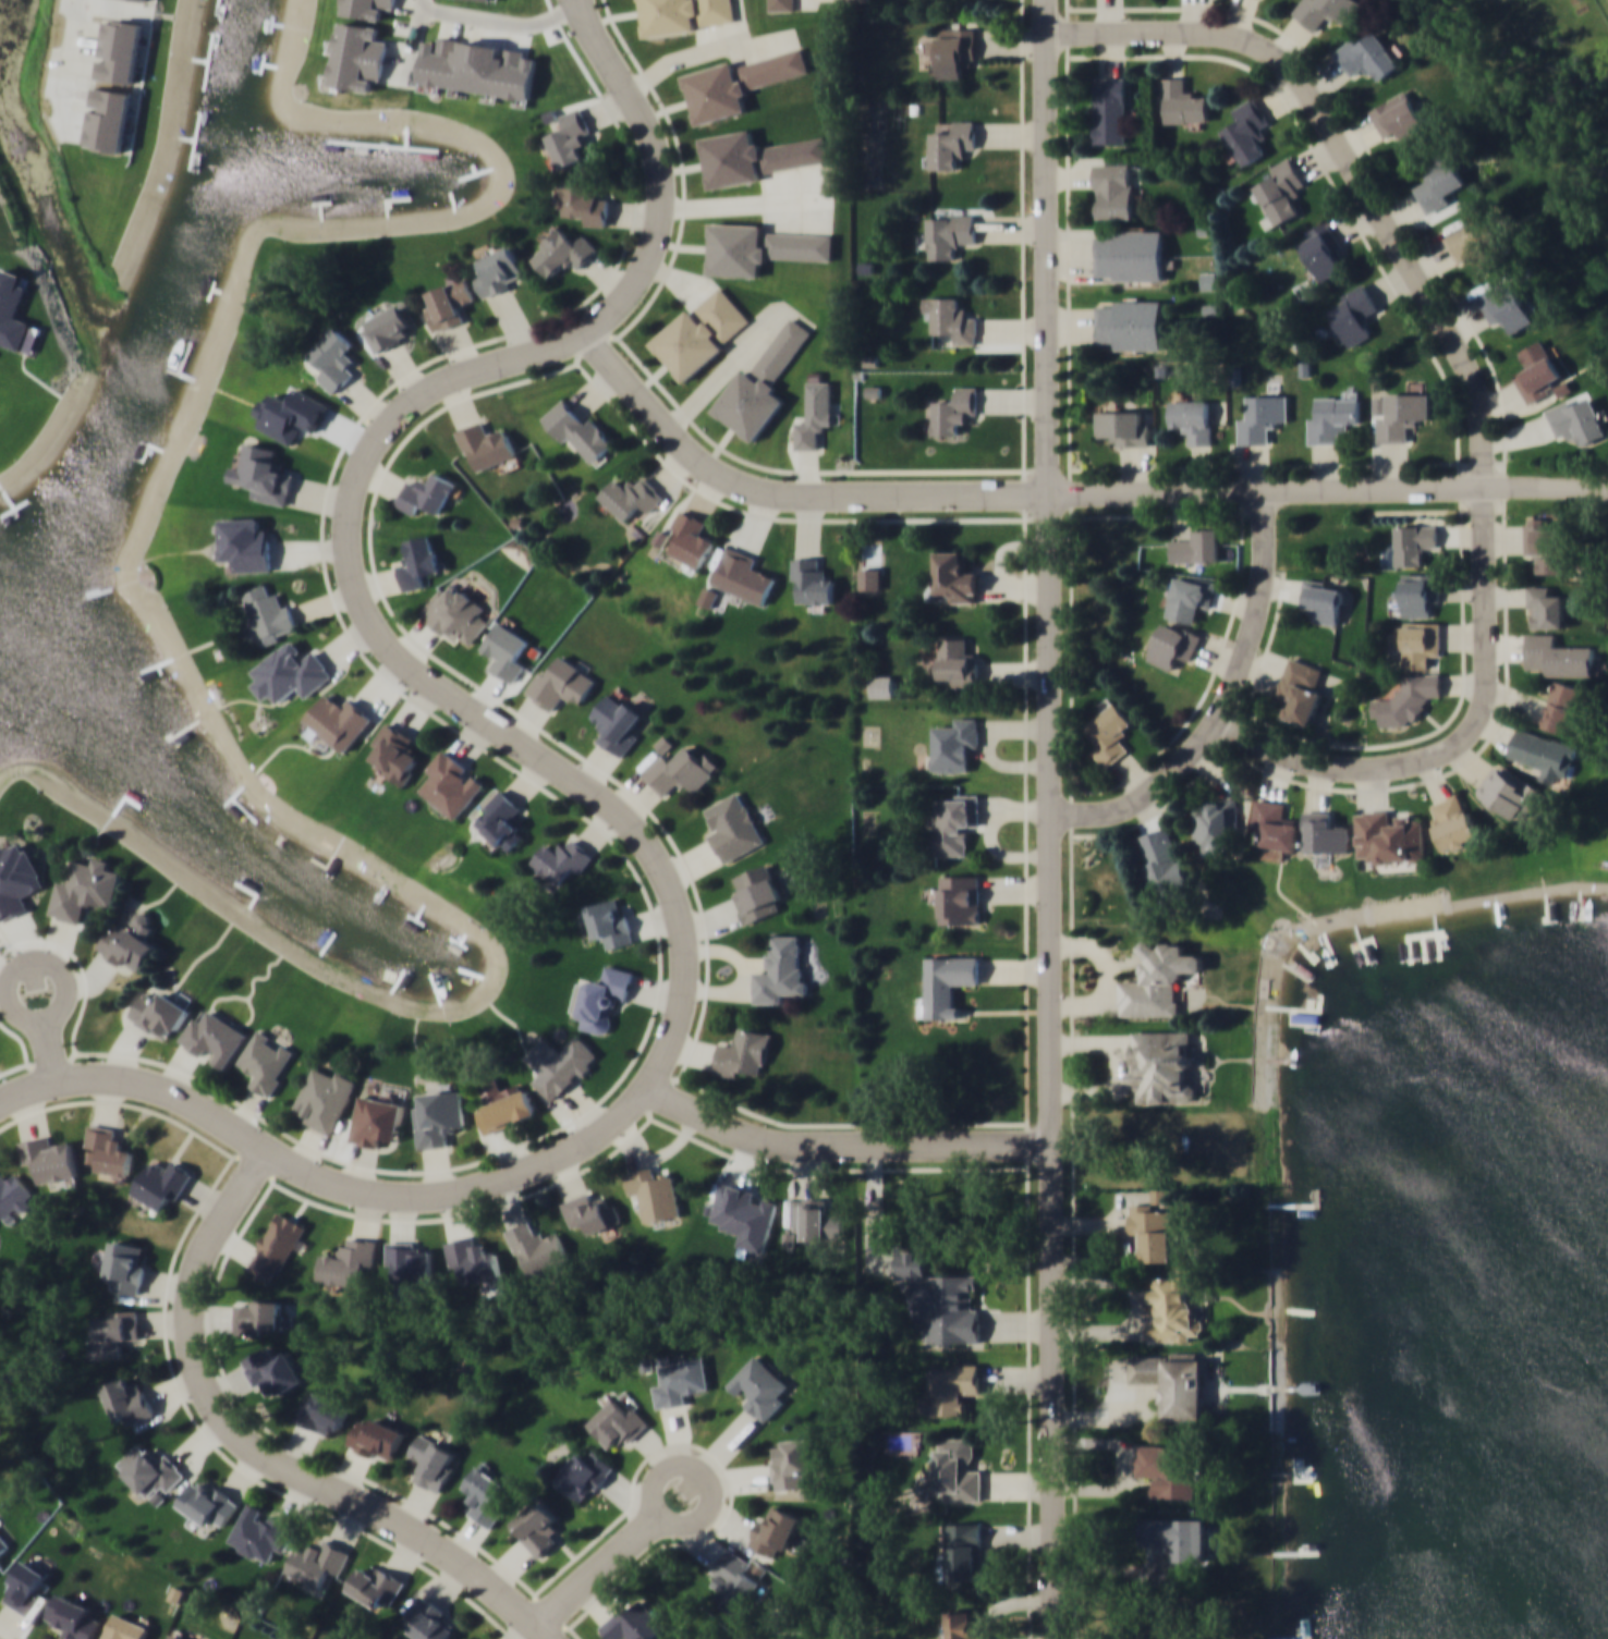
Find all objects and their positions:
building: (781, 4)
building: (366, 8)
building: (1326, 11)
building: (685, 14)
road: (501, 20)
road: (76, 27)
road: (413, 38)
building: (955, 49)
building: (120, 50)
building: (357, 57)
building: (1367, 57)
building: (441, 66)
building: (738, 82)
building: (1181, 101)
building: (1110, 110)
building: (109, 119)
building: (1400, 119)
building: (1246, 132)
building: (568, 138)
building: (951, 145)
building: (755, 156)
road: (1347, 158)
building: (1438, 181)
road: (682, 182)
building: (1114, 189)
building: (1280, 192)
building: (584, 201)
building: (949, 233)
building: (1477, 244)
building: (759, 247)
building: (1321, 248)
building: (561, 249)
building: (1129, 255)
building: (500, 271)
building: (450, 303)
building: (1505, 305)
building: (1354, 314)
building: (951, 317)
building: (1129, 323)
building: (386, 328)
building: (701, 333)
building: (334, 358)
building: (1538, 370)
building: (760, 383)
building: (954, 409)
building: (814, 412)
building: (1400, 415)
building: (1263, 417)
building: (1331, 418)
building: (1191, 419)
building: (1577, 420)
building: (1121, 426)
building: (578, 429)
building: (485, 444)
building: (263, 474)
road: (1062, 491)
building: (427, 493)
building: (634, 497)
building: (691, 539)
building: (1414, 541)
building: (245, 543)
building: (1546, 545)
building: (1196, 546)
building: (418, 562)
building: (742, 575)
building: (957, 576)
building: (813, 580)
building: (1418, 592)
building: (707, 596)
building: (1190, 596)
building: (1323, 599)
building: (1545, 606)
building: (268, 611)
building: (456, 613)
building: (1418, 640)
building: (1173, 645)
building: (505, 650)
building: (1558, 655)
building: (959, 661)
building: (290, 672)
building: (561, 683)
building: (1299, 689)
building: (1409, 697)
road: (1225, 705)
building: (1563, 706)
building: (616, 721)
building: (339, 722)
building: (1110, 732)
road: (1460, 739)
building: (954, 744)
building: (395, 751)
building: (1545, 753)
building: (679, 769)
building: (451, 783)
road: (575, 784)
building: (1509, 790)
building: (500, 818)
road: (1050, 819)
building: (953, 821)
building: (1454, 821)
building: (1216, 824)
building: (734, 827)
building: (1274, 828)
building: (1325, 832)
building: (1389, 836)
building: (560, 858)
building: (1162, 866)
building: (16, 877)
building: (85, 889)
building: (756, 892)
building: (960, 897)
building: (610, 920)
building: (131, 941)
road: (53, 967)
building: (780, 970)
building: (1158, 979)
road: (1107, 980)
building: (948, 983)
building: (600, 998)
building: (159, 1014)
building: (215, 1036)
building: (743, 1052)
building: (267, 1061)
building: (1161, 1064)
road: (1121, 1065)
building: (564, 1068)
building: (325, 1097)
building: (504, 1110)
building: (439, 1116)
building: (377, 1118)
road: (843, 1147)
building: (109, 1150)
building: (49, 1158)
building: (160, 1185)
building: (654, 1192)
building: (12, 1198)
building: (590, 1211)
building: (744, 1214)
building: (815, 1220)
building: (1152, 1228)
building: (276, 1246)
building: (536, 1247)
building: (475, 1259)
building: (346, 1261)
building: (409, 1261)
building: (126, 1267)
building: (942, 1299)
building: (1174, 1307)
building: (263, 1314)
building: (117, 1331)
building: (276, 1370)
building: (680, 1379)
building: (1174, 1382)
building: (758, 1386)
building: (952, 1386)
building: (127, 1401)
building: (321, 1411)
building: (617, 1422)
building: (376, 1438)
road: (258, 1453)
building: (433, 1460)
building: (792, 1463)
building: (958, 1469)
building: (1169, 1469)
building: (150, 1472)
building: (585, 1475)
building: (485, 1495)
building: (209, 1504)
road: (675, 1524)
building: (538, 1526)
building: (773, 1531)
building: (261, 1533)
building: (1175, 1536)
building: (3, 1542)
building: (963, 1551)
building: (316, 1562)
building: (1, 1564)
building: (733, 1579)
building: (375, 1583)
building: (26, 1587)
building: (74, 1616)
building: (430, 1619)
building: (634, 1622)
building: (962, 1625)
building: (126, 1627)
building: (175, 1636)

